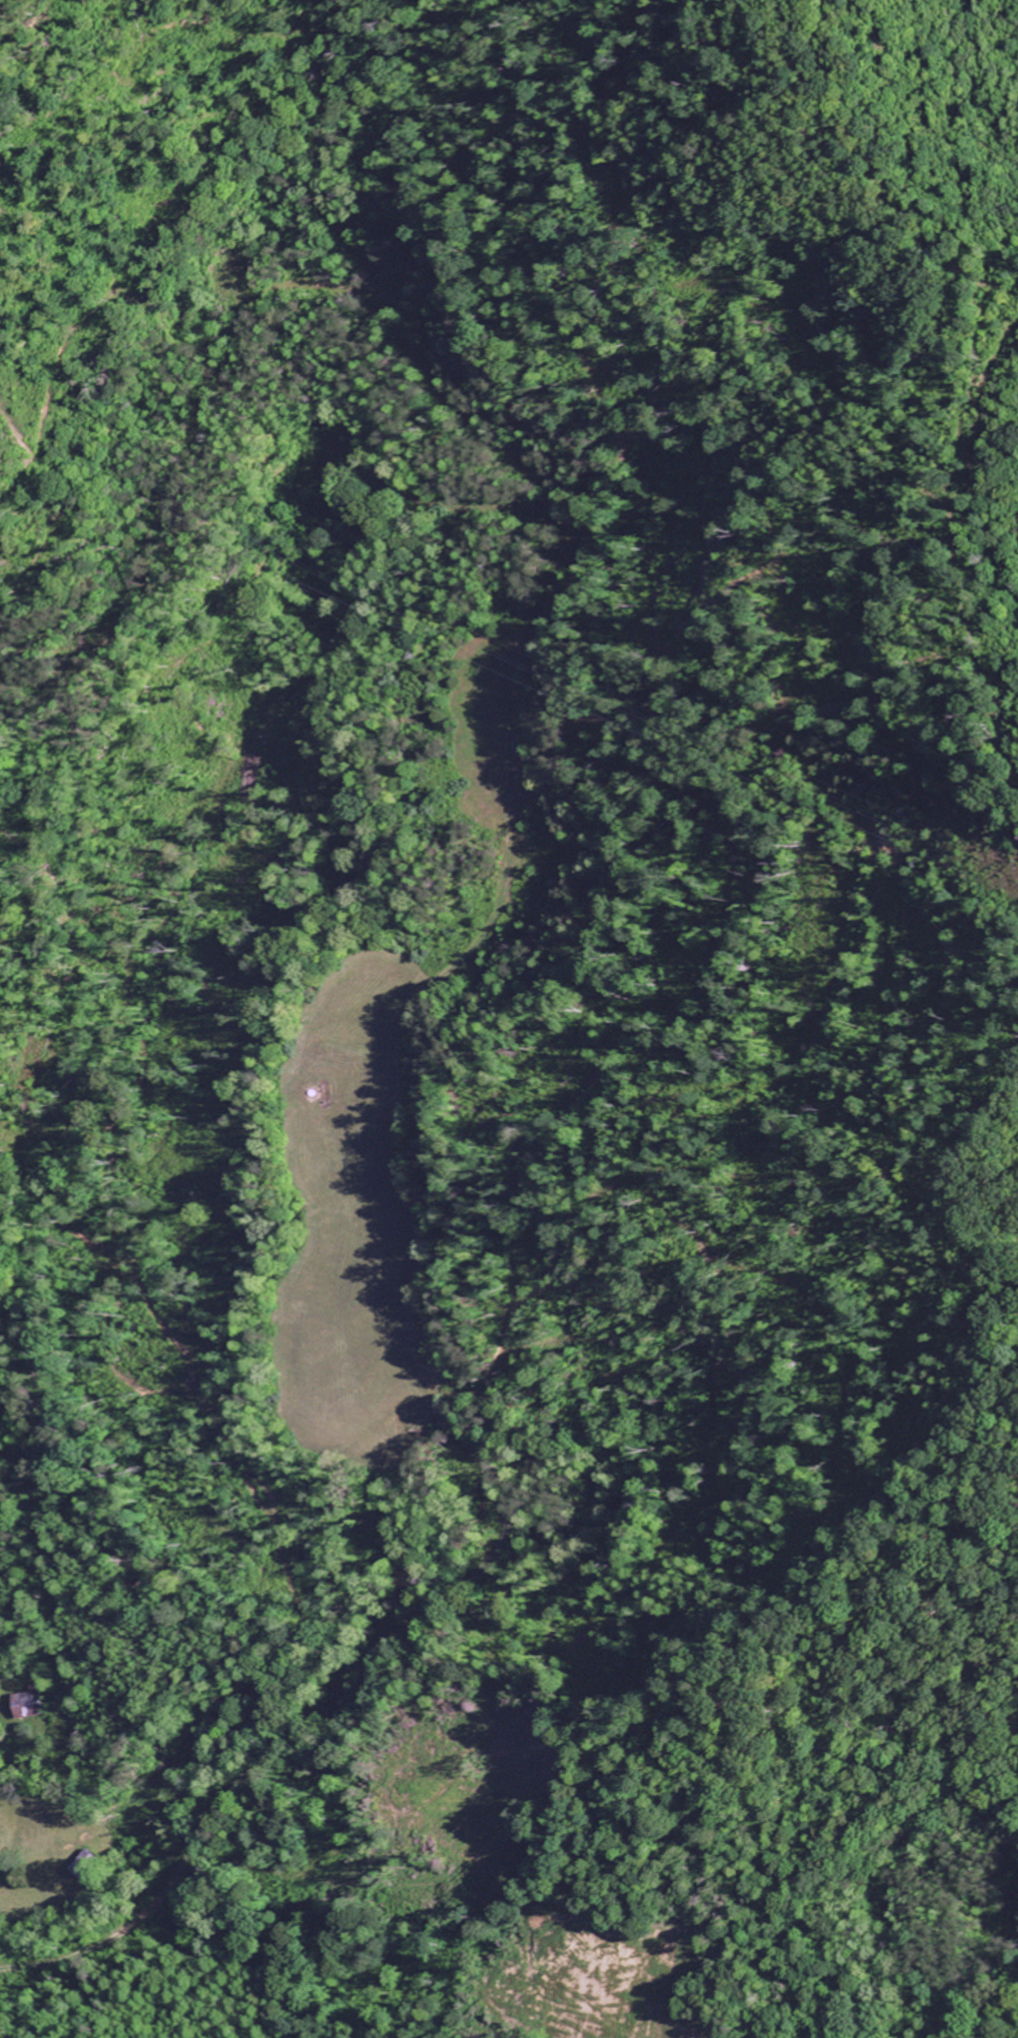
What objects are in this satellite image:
building: (30, 1704)
road: (240, 1760)
road: (38, 1784)
building: (92, 1863)

